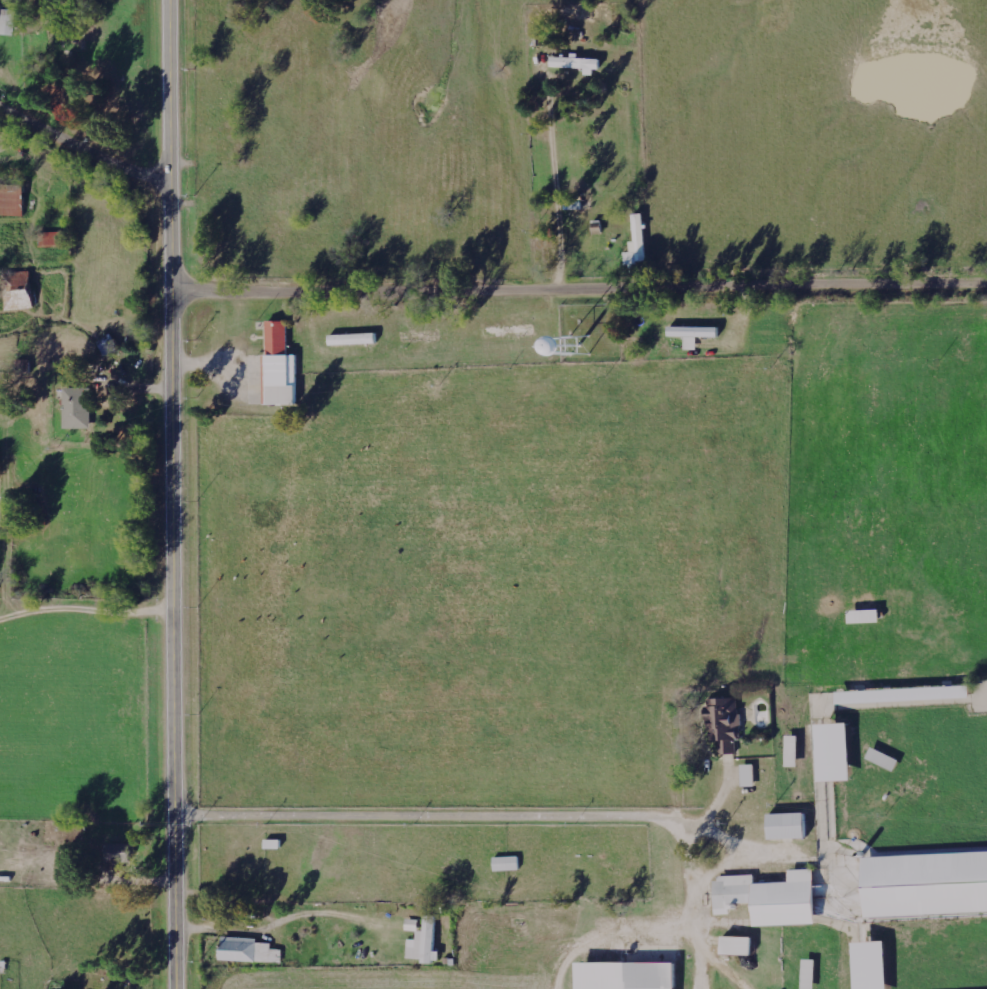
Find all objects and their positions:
building: (2, 17)
building: (12, 23)
building: (579, 65)
road: (84, 150)
building: (13, 200)
building: (55, 239)
building: (639, 243)
road: (581, 292)
building: (21, 300)
building: (511, 331)
building: (695, 335)
building: (355, 339)
building: (282, 366)
building: (80, 408)
road: (177, 494)
road: (86, 605)
building: (867, 617)
building: (727, 724)
building: (794, 752)
building: (839, 753)
building: (749, 776)
building: (790, 826)
building: (56, 833)
building: (121, 856)
building: (508, 864)
building: (927, 884)
building: (773, 898)
road: (607, 913)
building: (427, 943)
building: (741, 946)
building: (250, 951)
building: (875, 965)
building: (629, 976)

